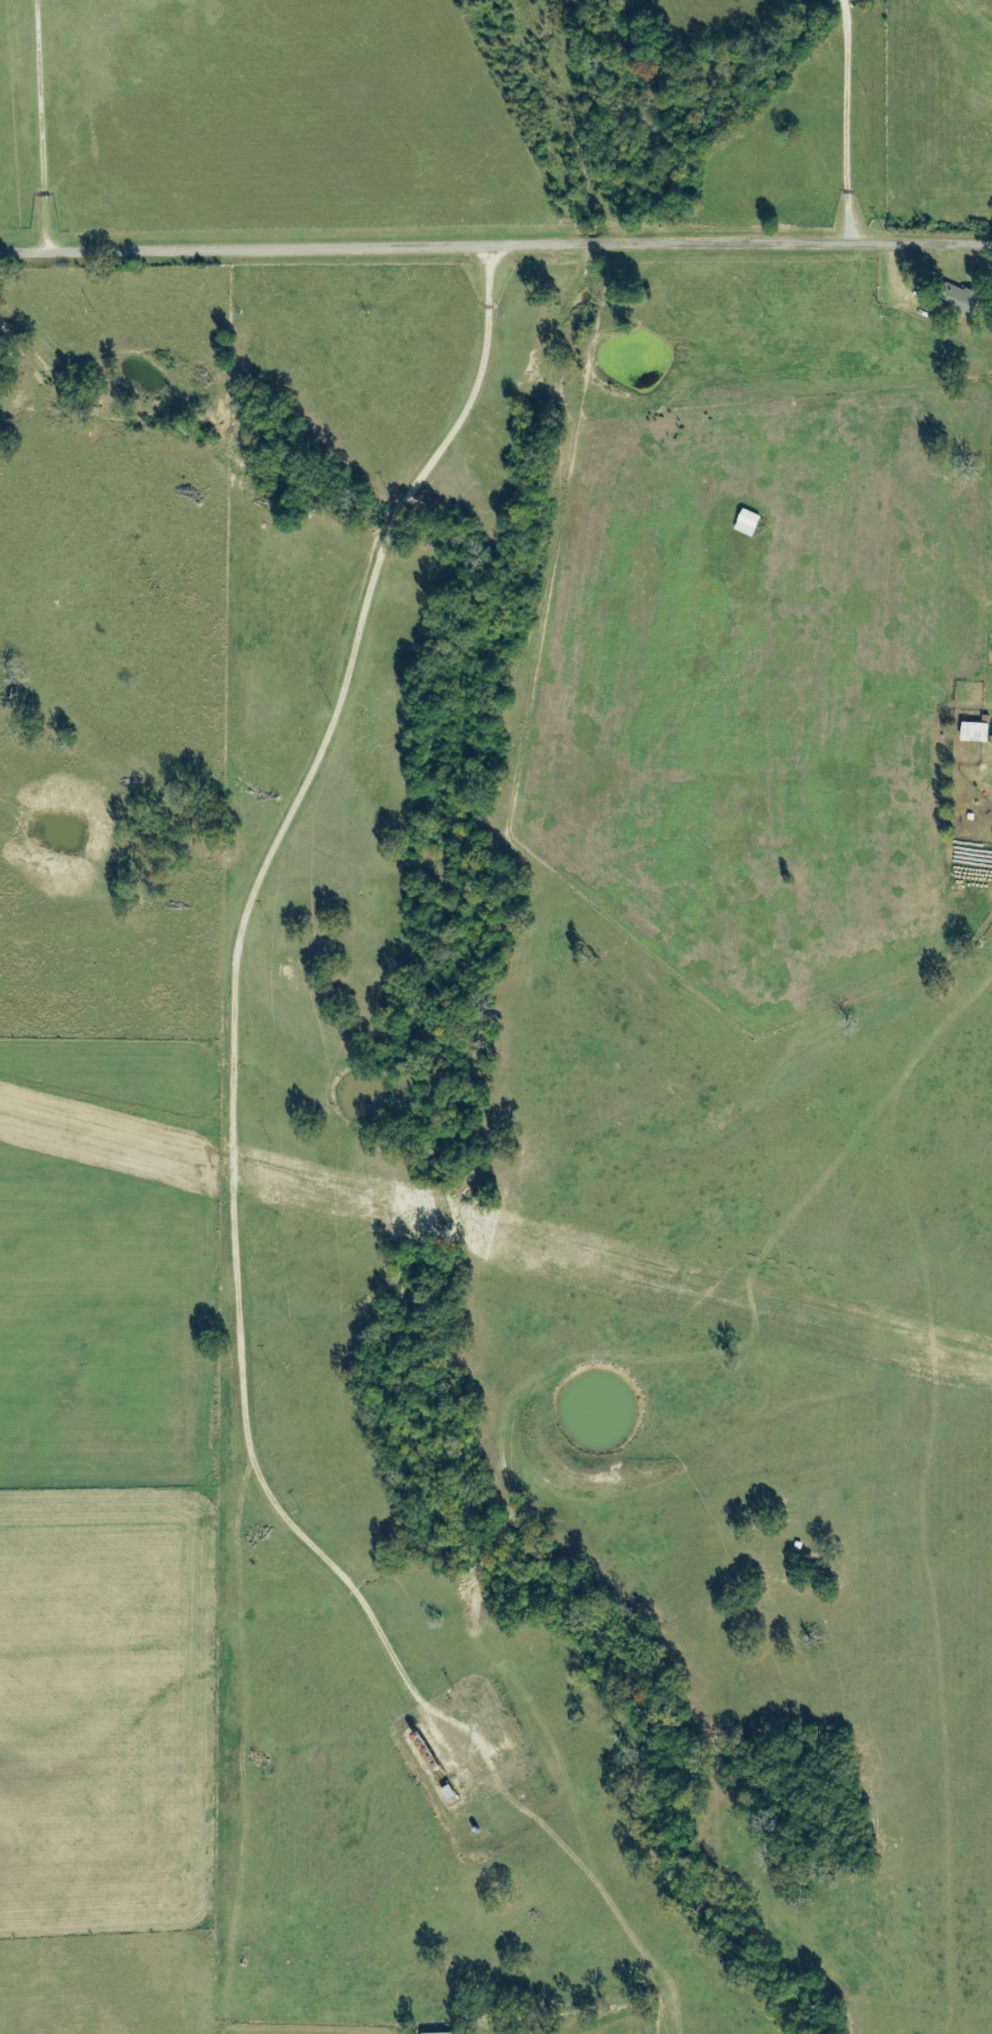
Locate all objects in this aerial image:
road: (496, 246)
building: (962, 301)
building: (748, 524)
building: (976, 734)

